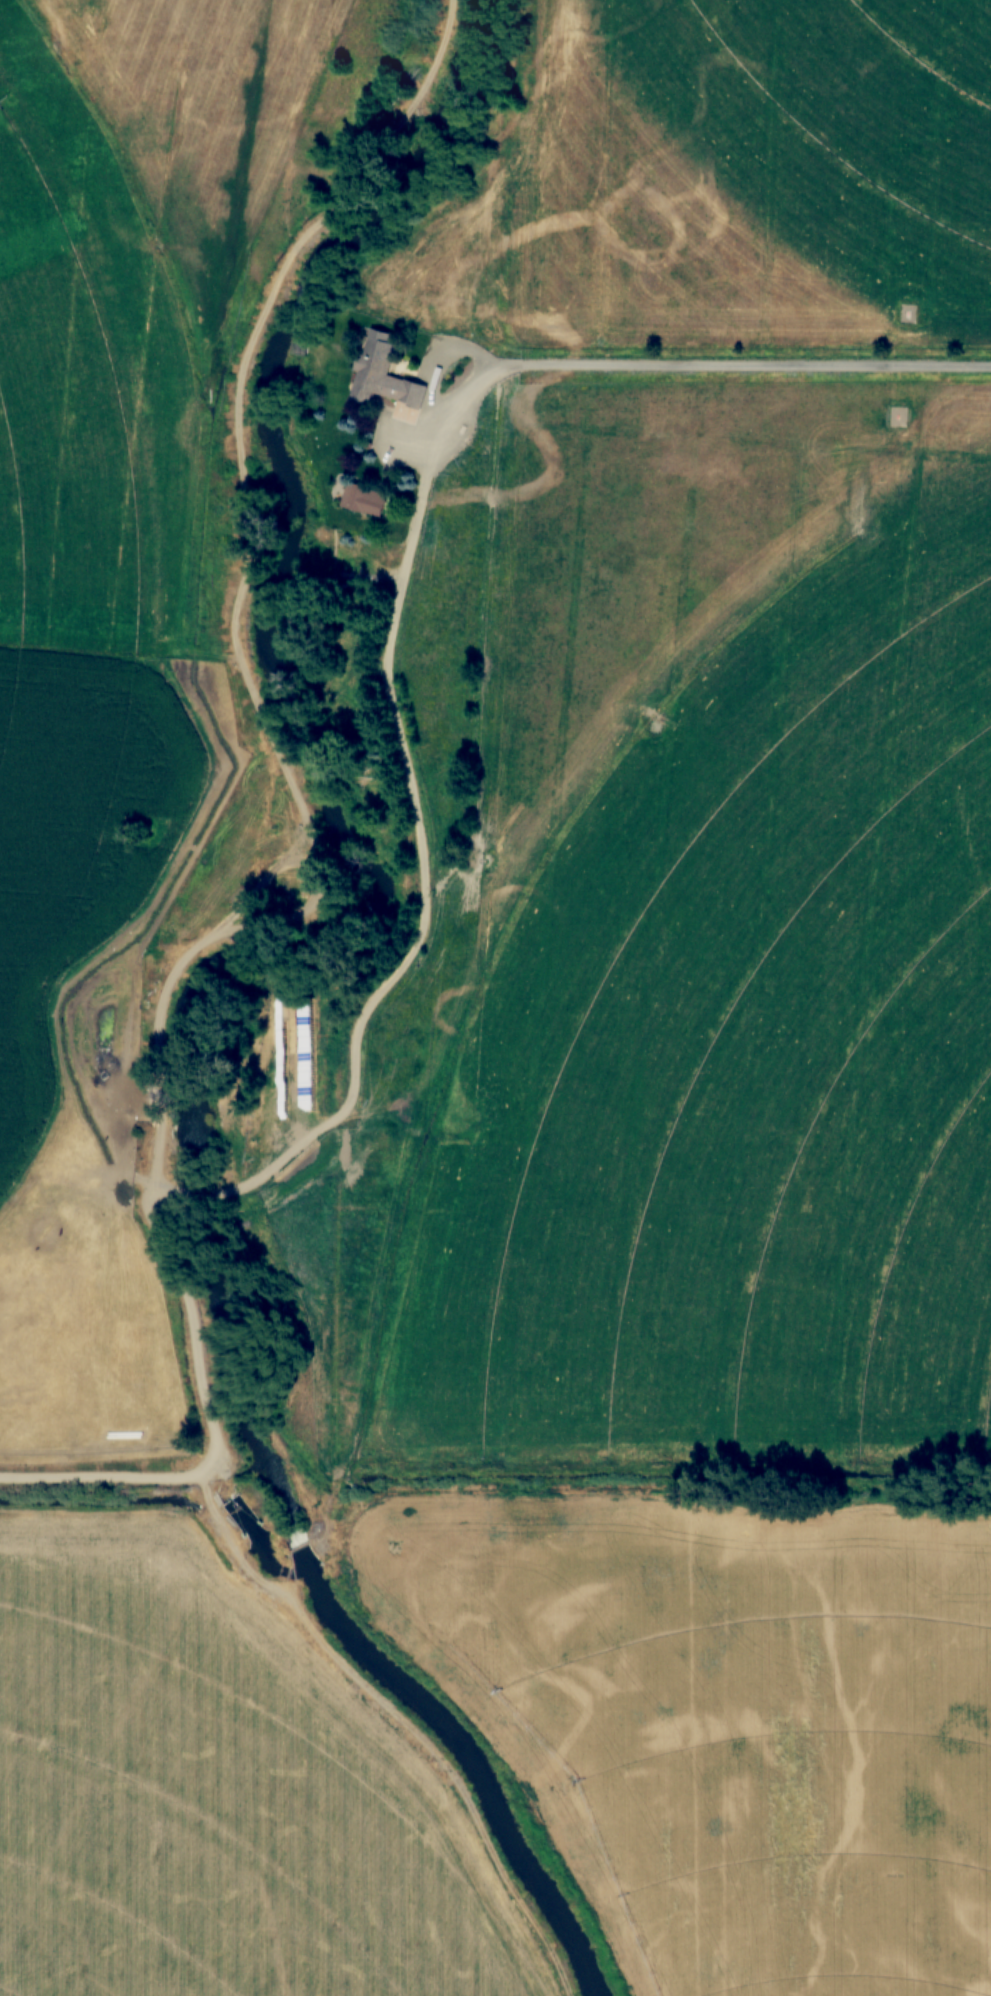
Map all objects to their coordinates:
crop: (196, 126)
building: (382, 375)
building: (362, 501)
road: (403, 571)
crop: (82, 574)
river: (236, 978)
building: (263, 1108)
road: (196, 1193)
road: (212, 1418)
road: (399, 1721)

